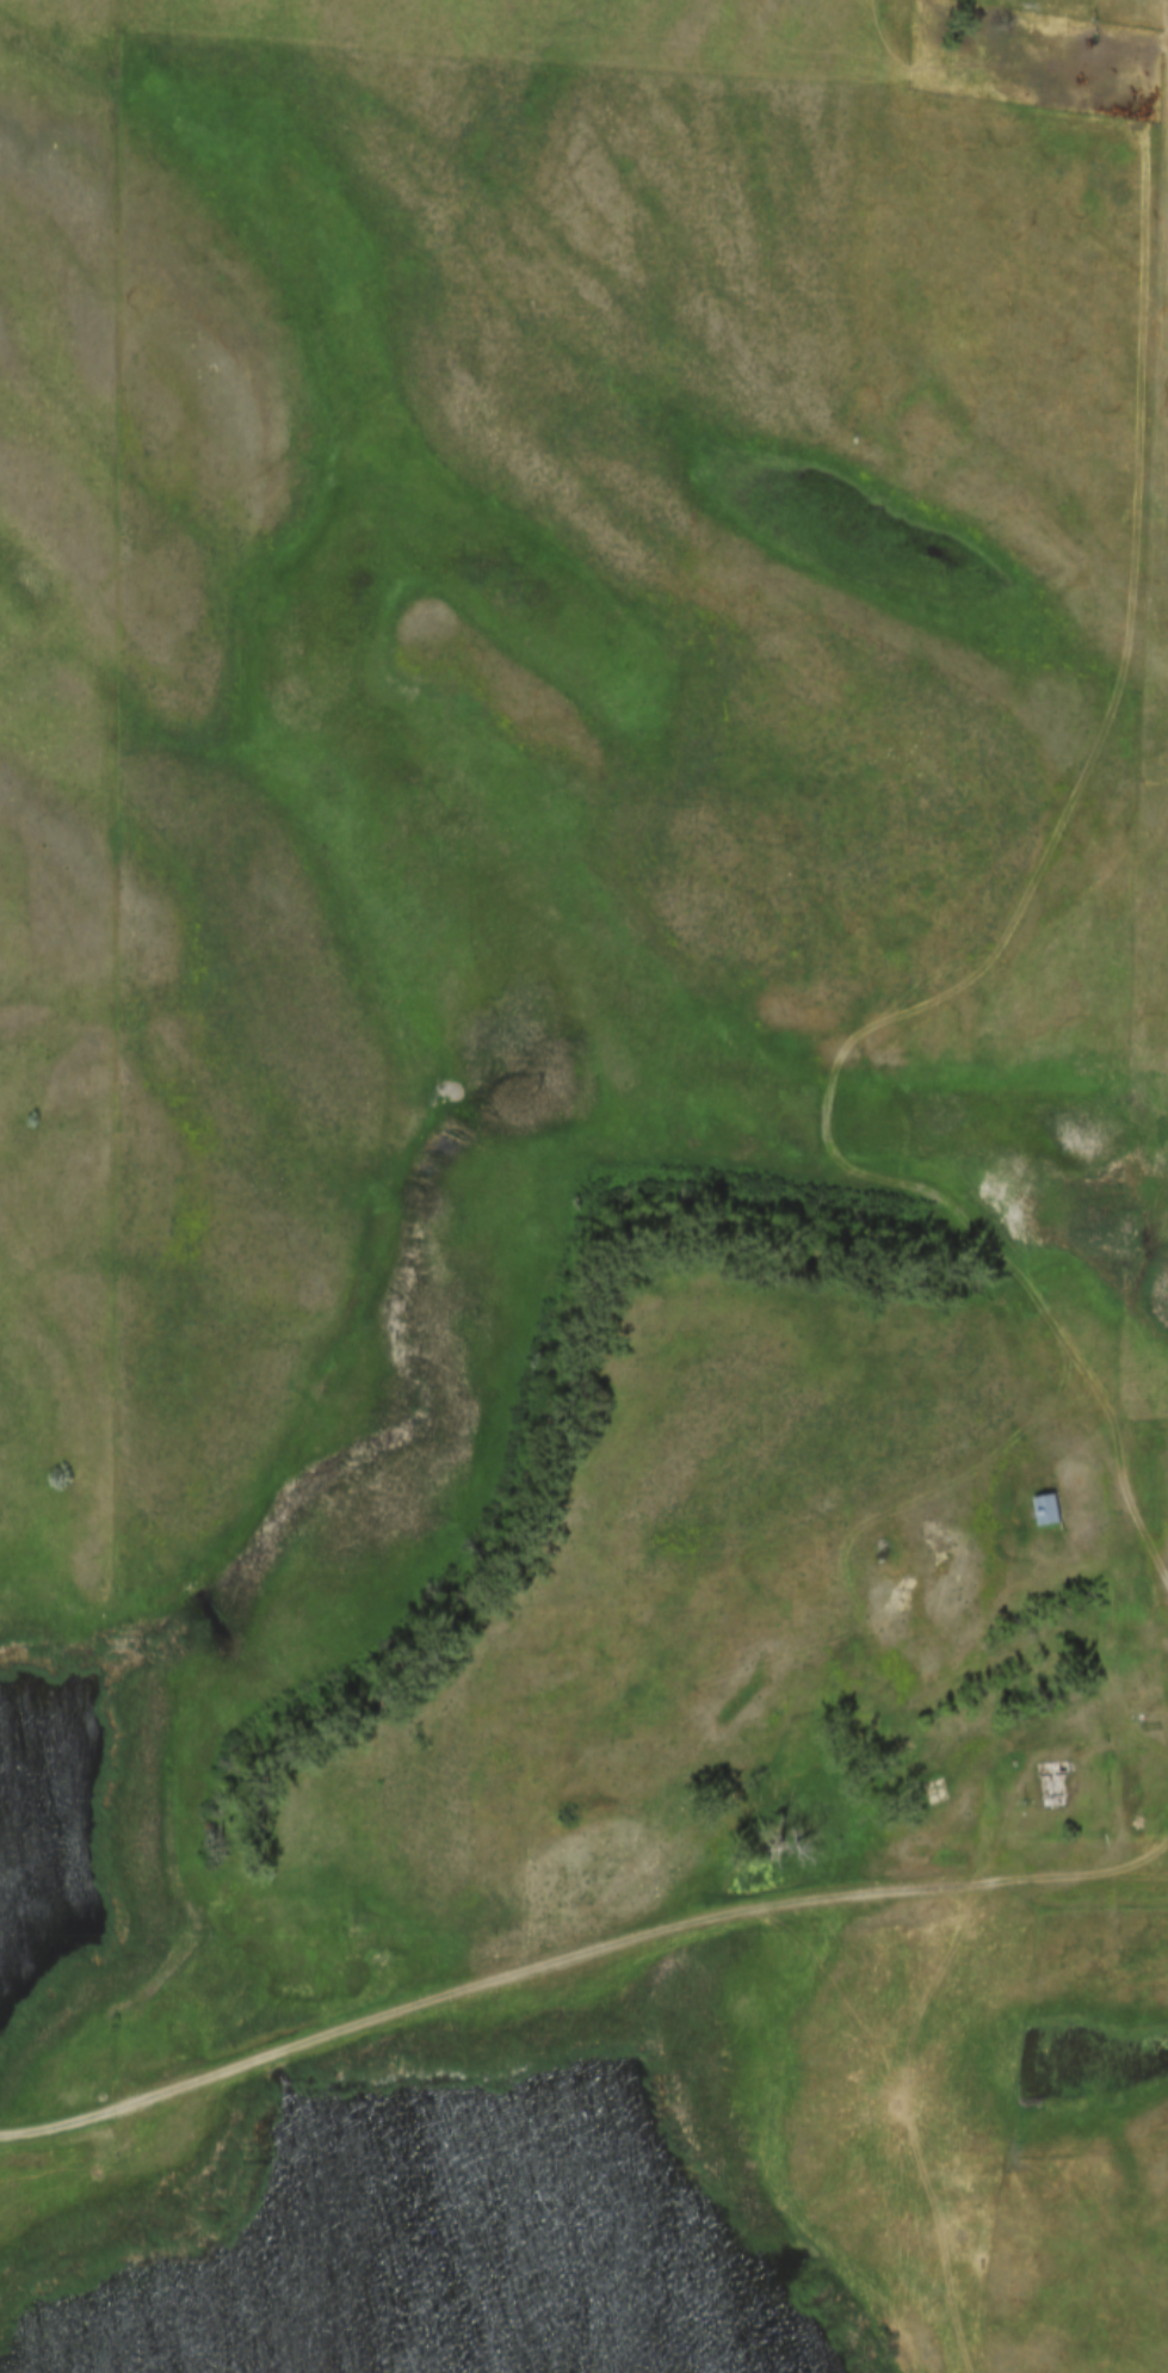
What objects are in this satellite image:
building: (1049, 1509)
road: (1126, 1515)
building: (1052, 1783)
road: (1155, 1865)
road: (1155, 1880)
road: (561, 1960)

